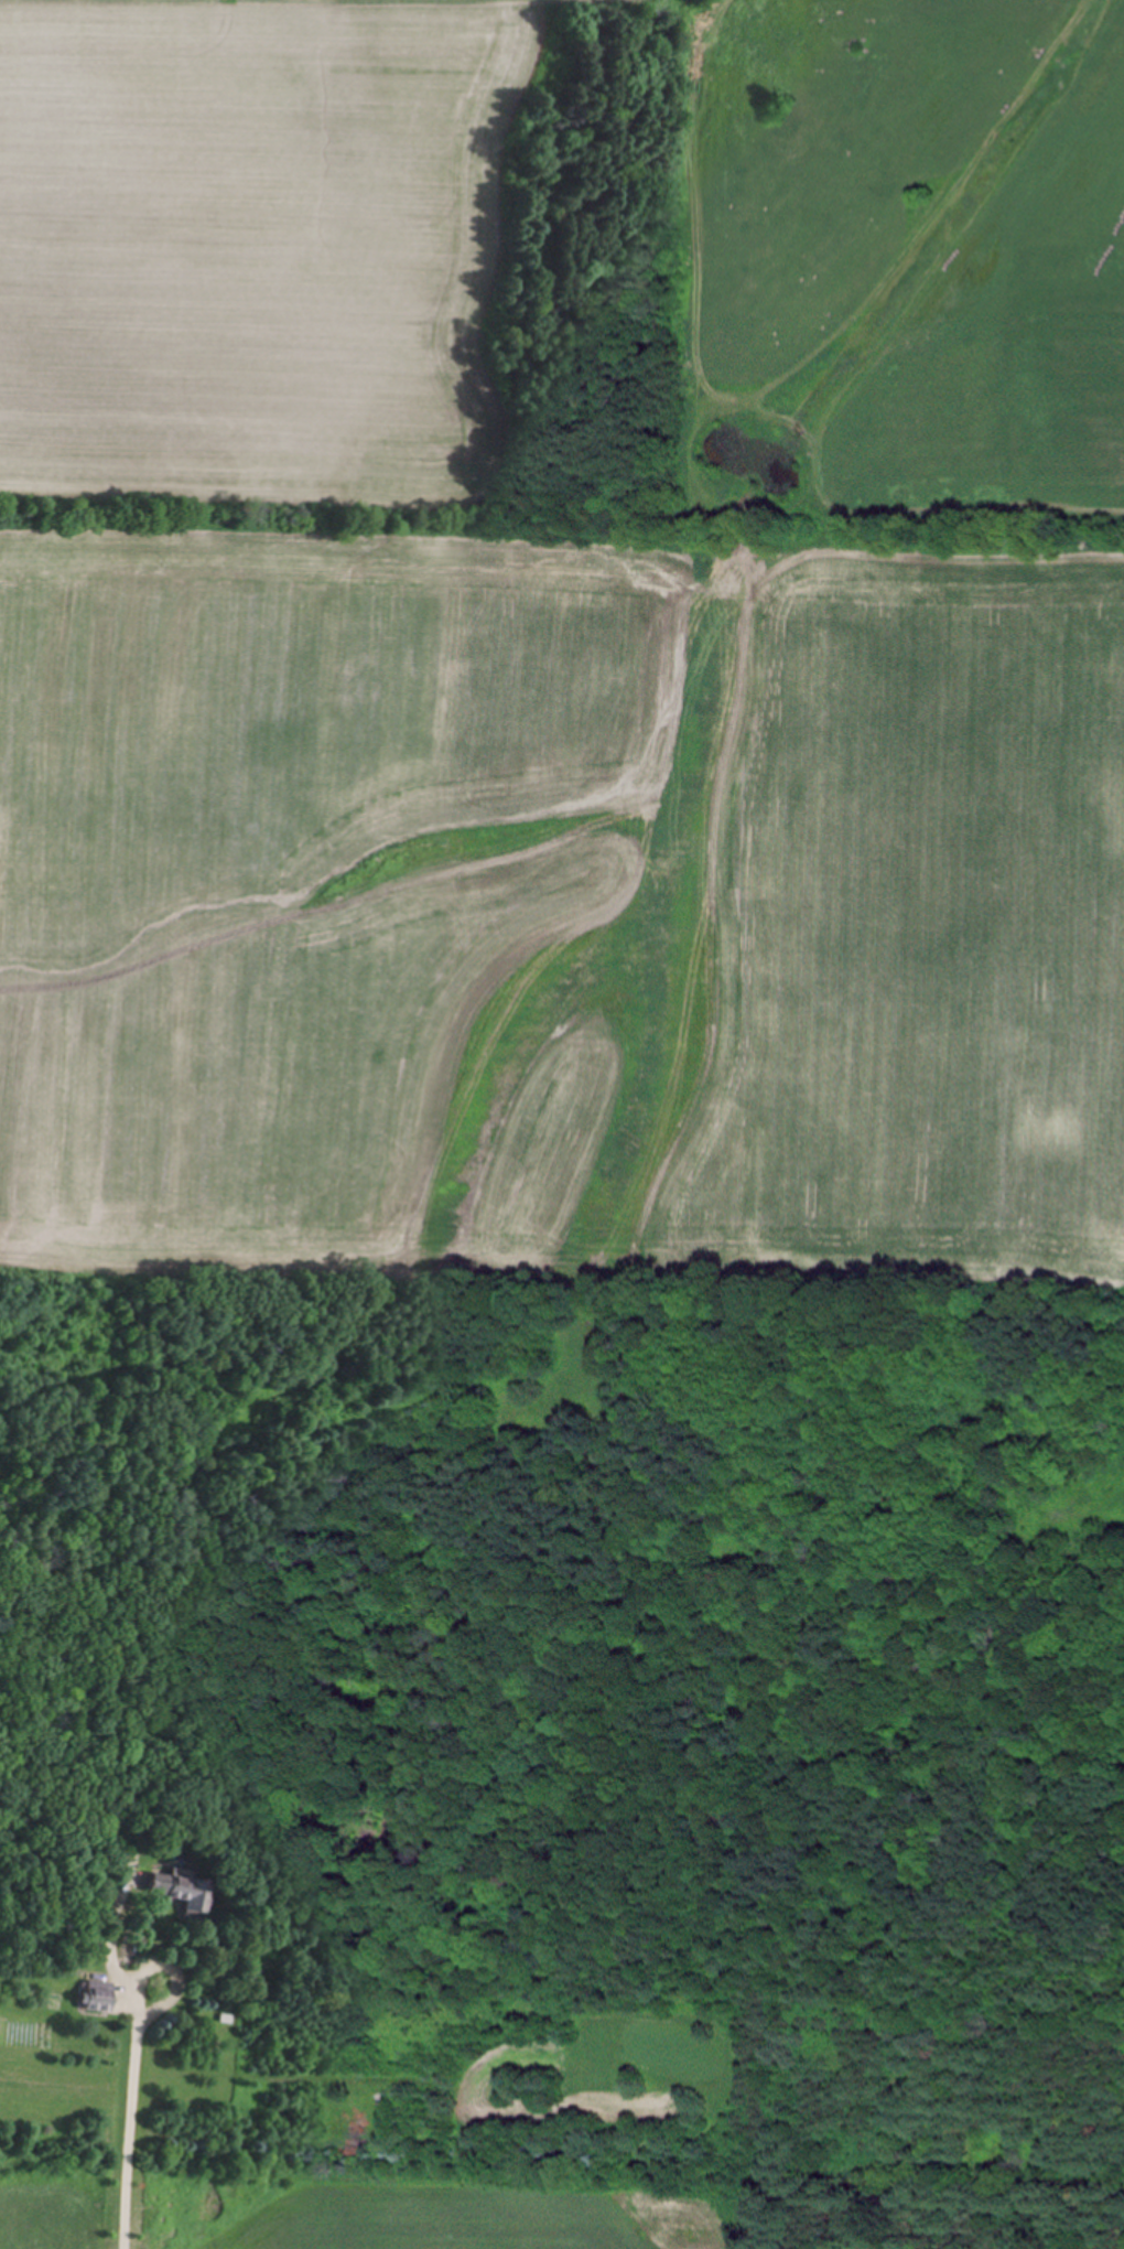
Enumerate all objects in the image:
building: (176, 1891)
building: (99, 1997)

